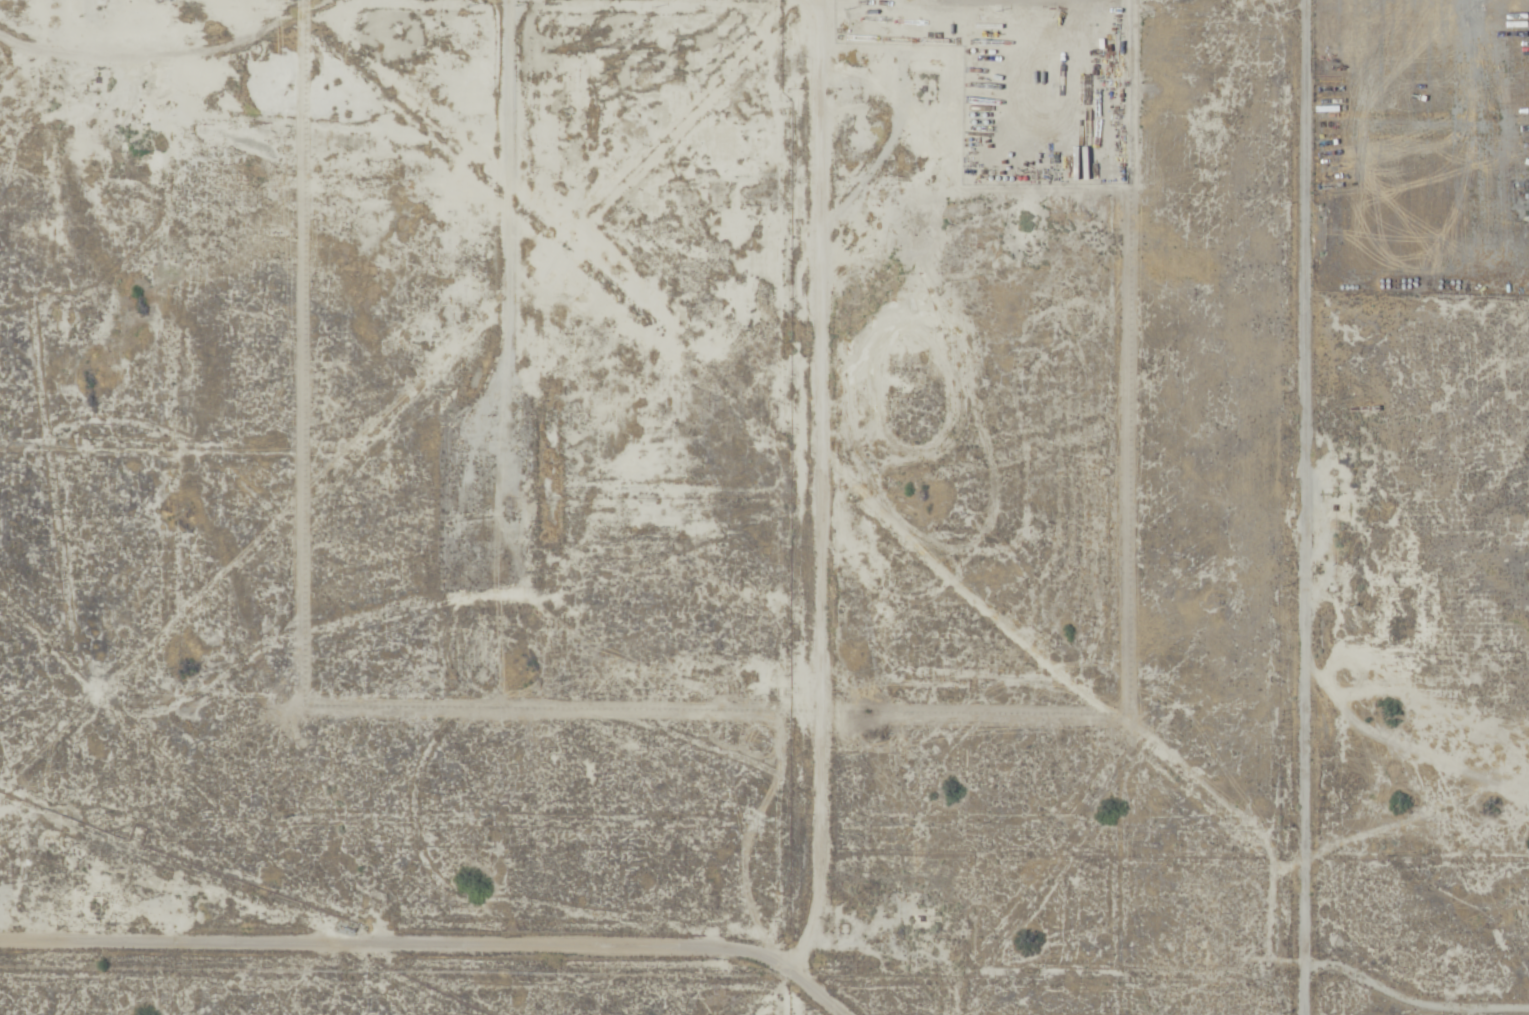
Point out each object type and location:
road: (815, 488)
road: (1309, 507)
road: (433, 954)

